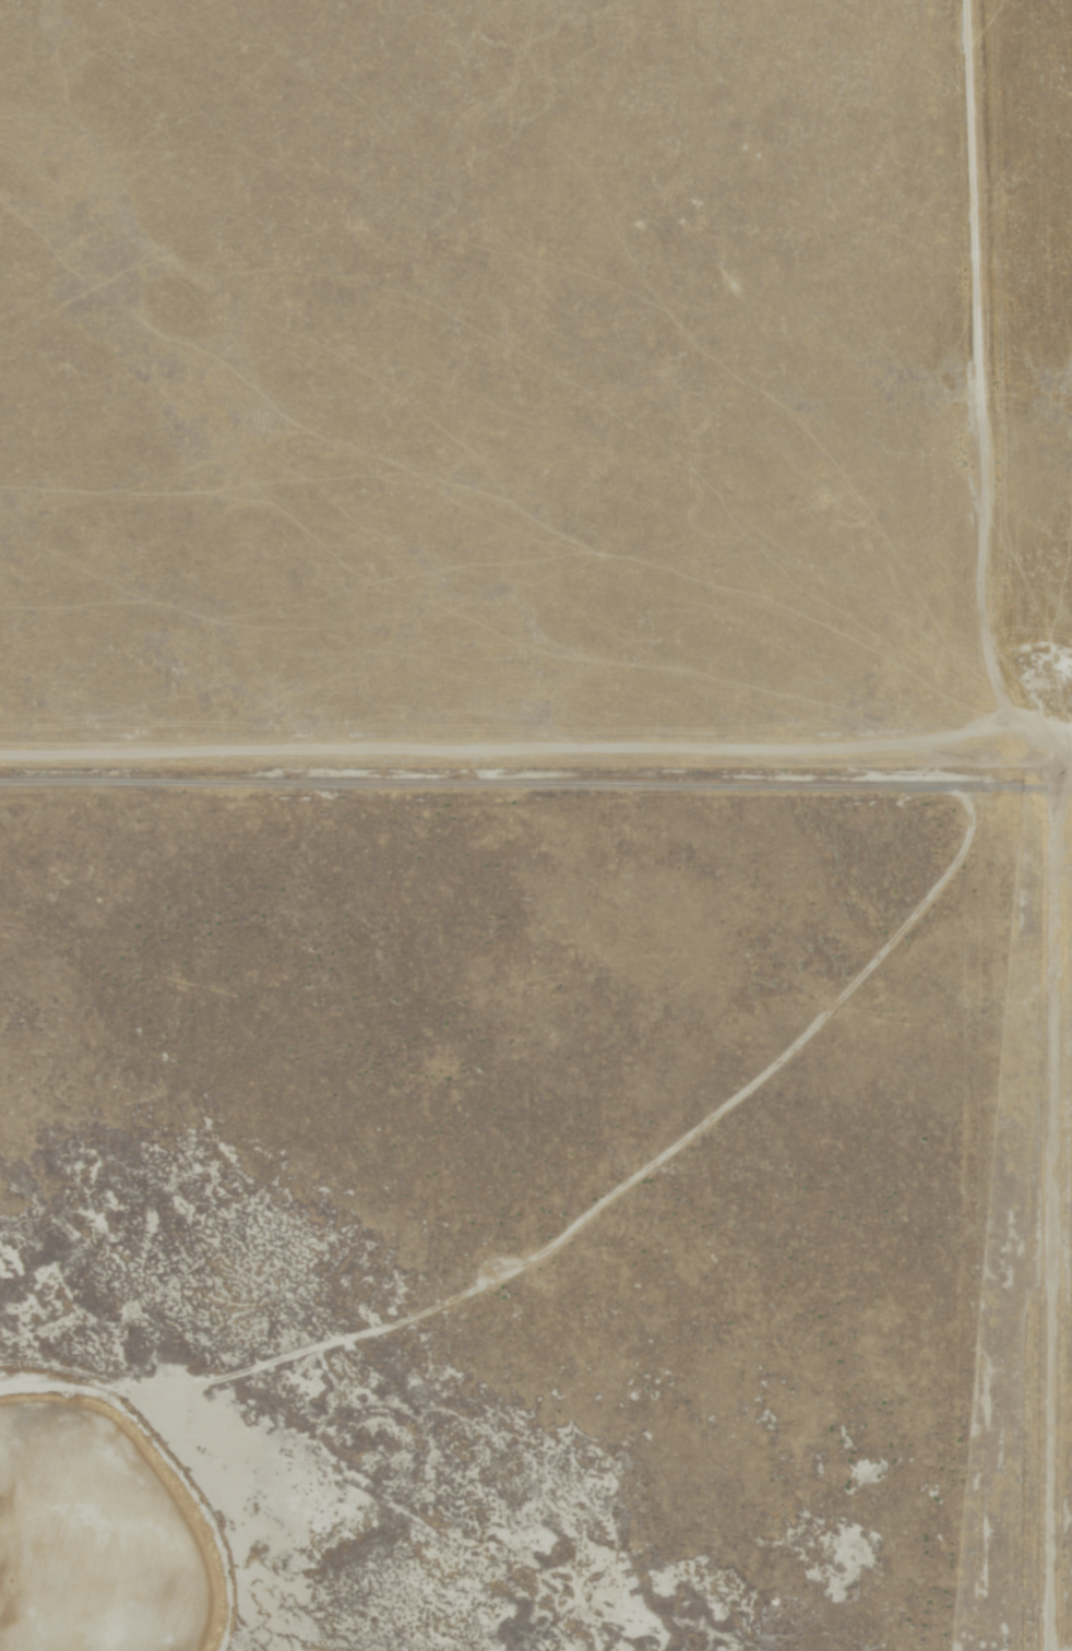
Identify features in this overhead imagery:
road: (979, 363)
road: (537, 767)
road: (1048, 1192)

